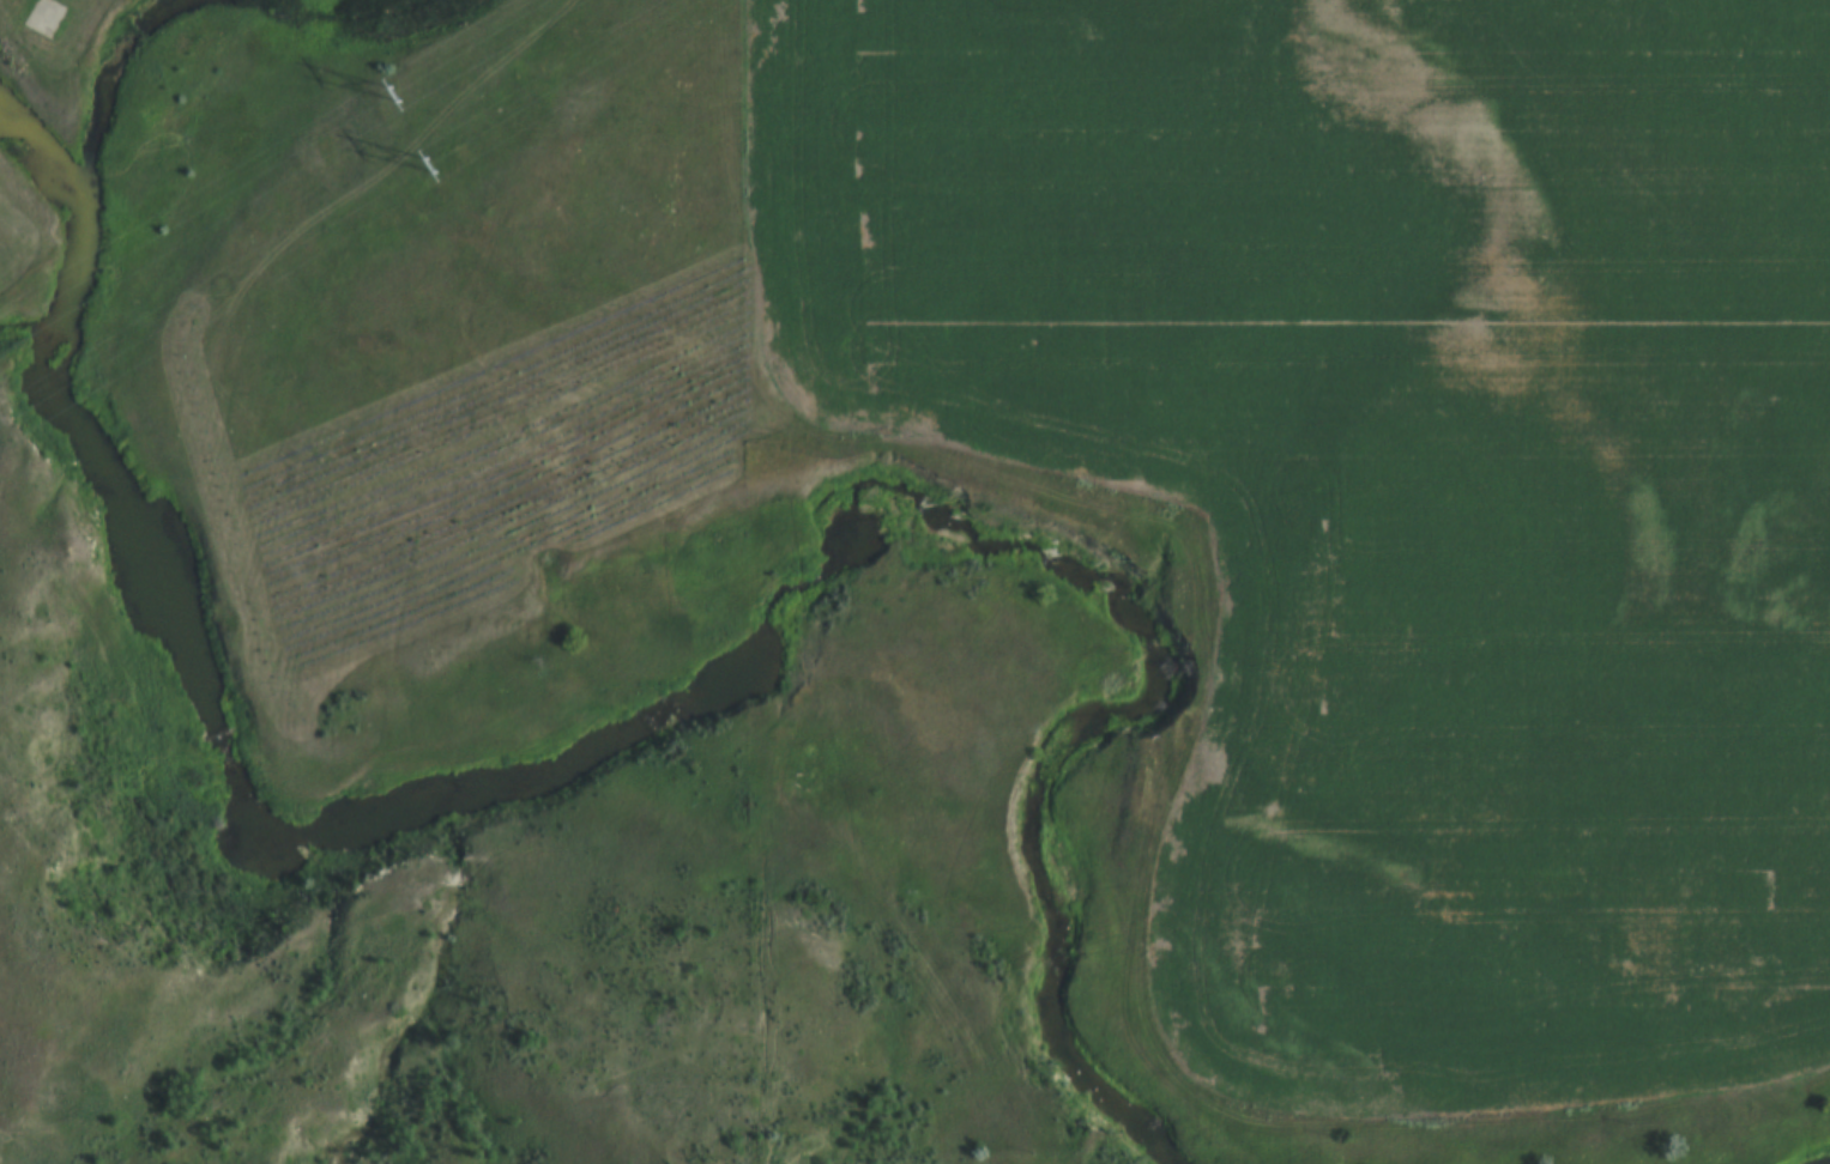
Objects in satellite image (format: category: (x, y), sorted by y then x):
power tower: (391, 101)
power tower: (424, 170)

